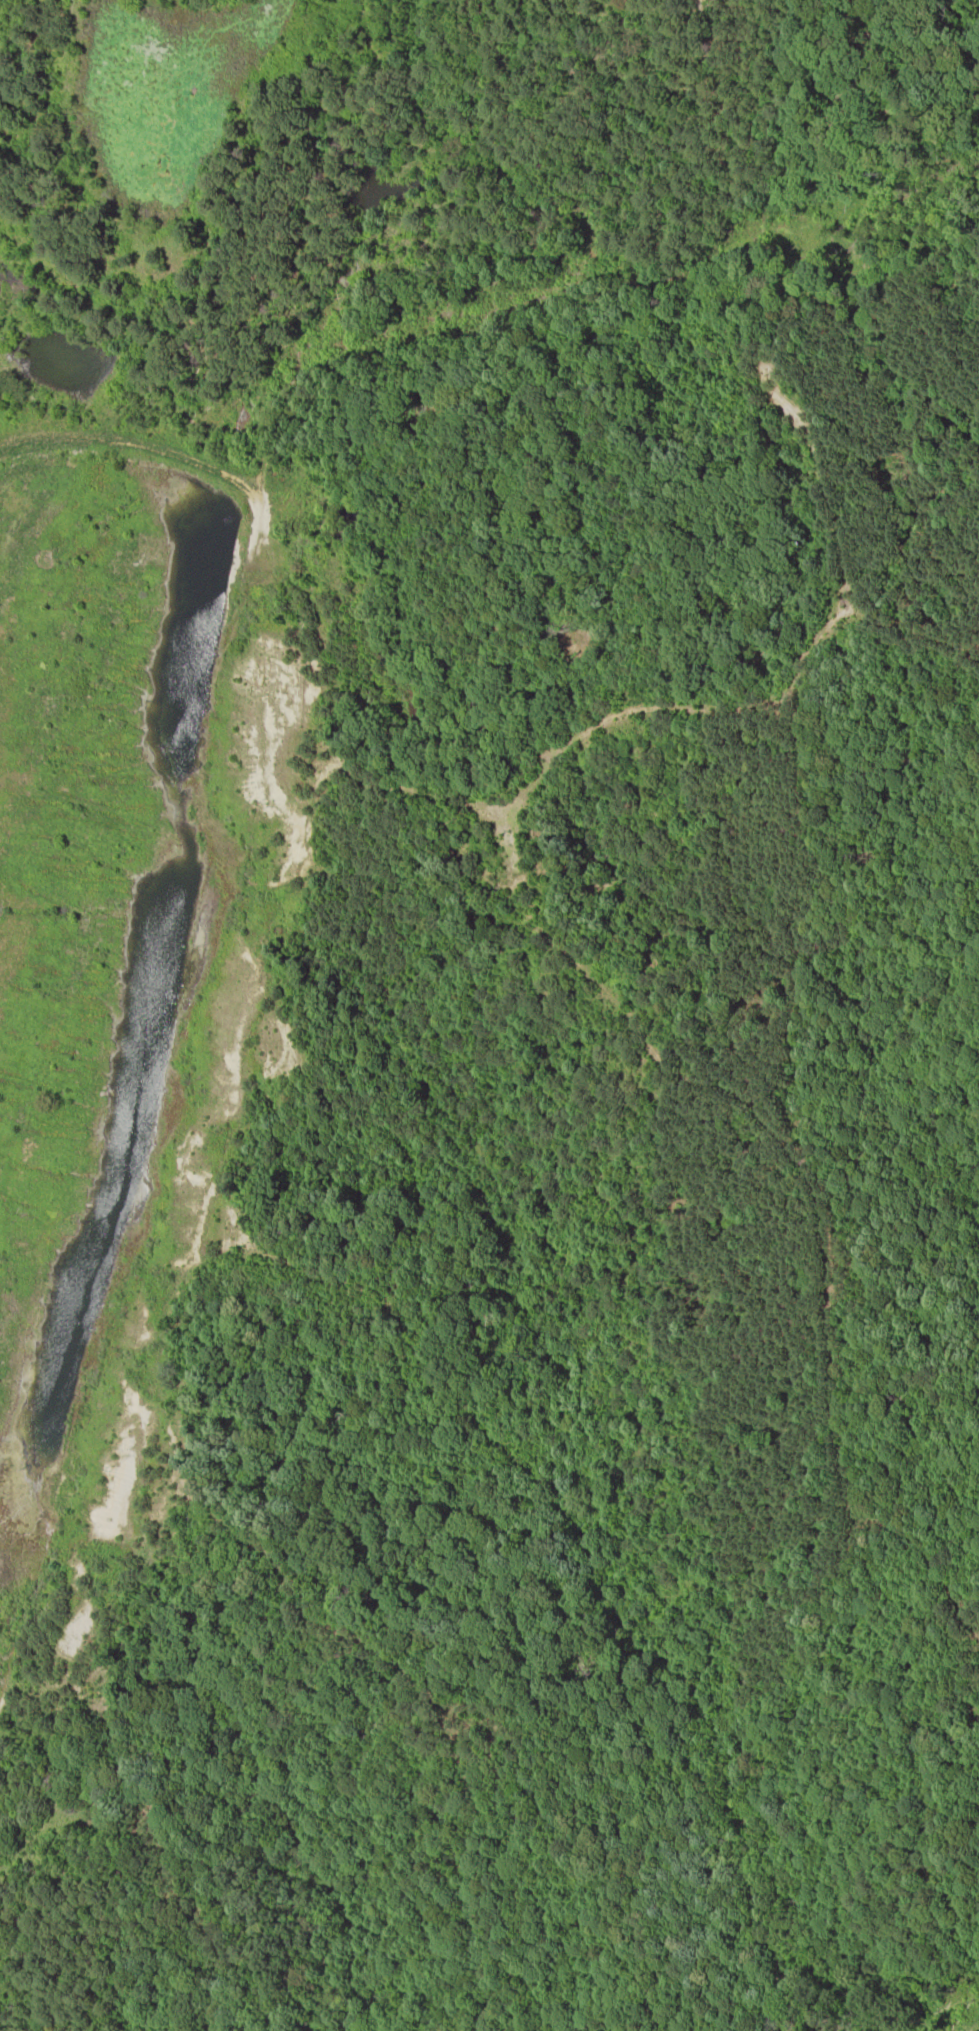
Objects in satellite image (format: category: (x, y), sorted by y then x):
road: (24, 36)

